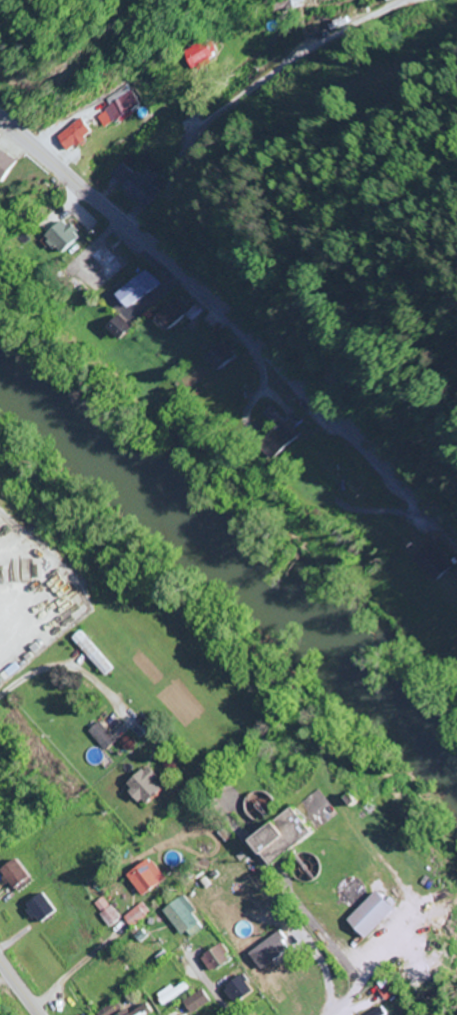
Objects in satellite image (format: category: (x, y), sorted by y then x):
road: (197, 99)
building: (111, 110)
building: (67, 135)
road: (37, 157)
building: (3, 164)
building: (133, 184)
road: (159, 190)
road: (140, 194)
building: (59, 237)
building: (130, 290)
building: (168, 313)
building: (113, 327)
building: (210, 355)
road: (267, 363)
building: (272, 440)
building: (426, 562)
river: (237, 574)
building: (93, 654)
road: (79, 669)
building: (103, 737)
building: (144, 786)
building: (278, 837)
building: (12, 874)
building: (145, 878)
building: (37, 909)
building: (106, 912)
building: (137, 916)
building: (369, 916)
building: (177, 918)
road: (24, 938)
building: (238, 938)
building: (213, 959)
road: (208, 985)
building: (269, 987)
road: (316, 988)
road: (18, 990)
building: (236, 990)
building: (386, 993)
building: (171, 994)
road: (266, 995)
building: (196, 1003)
road: (341, 1004)

